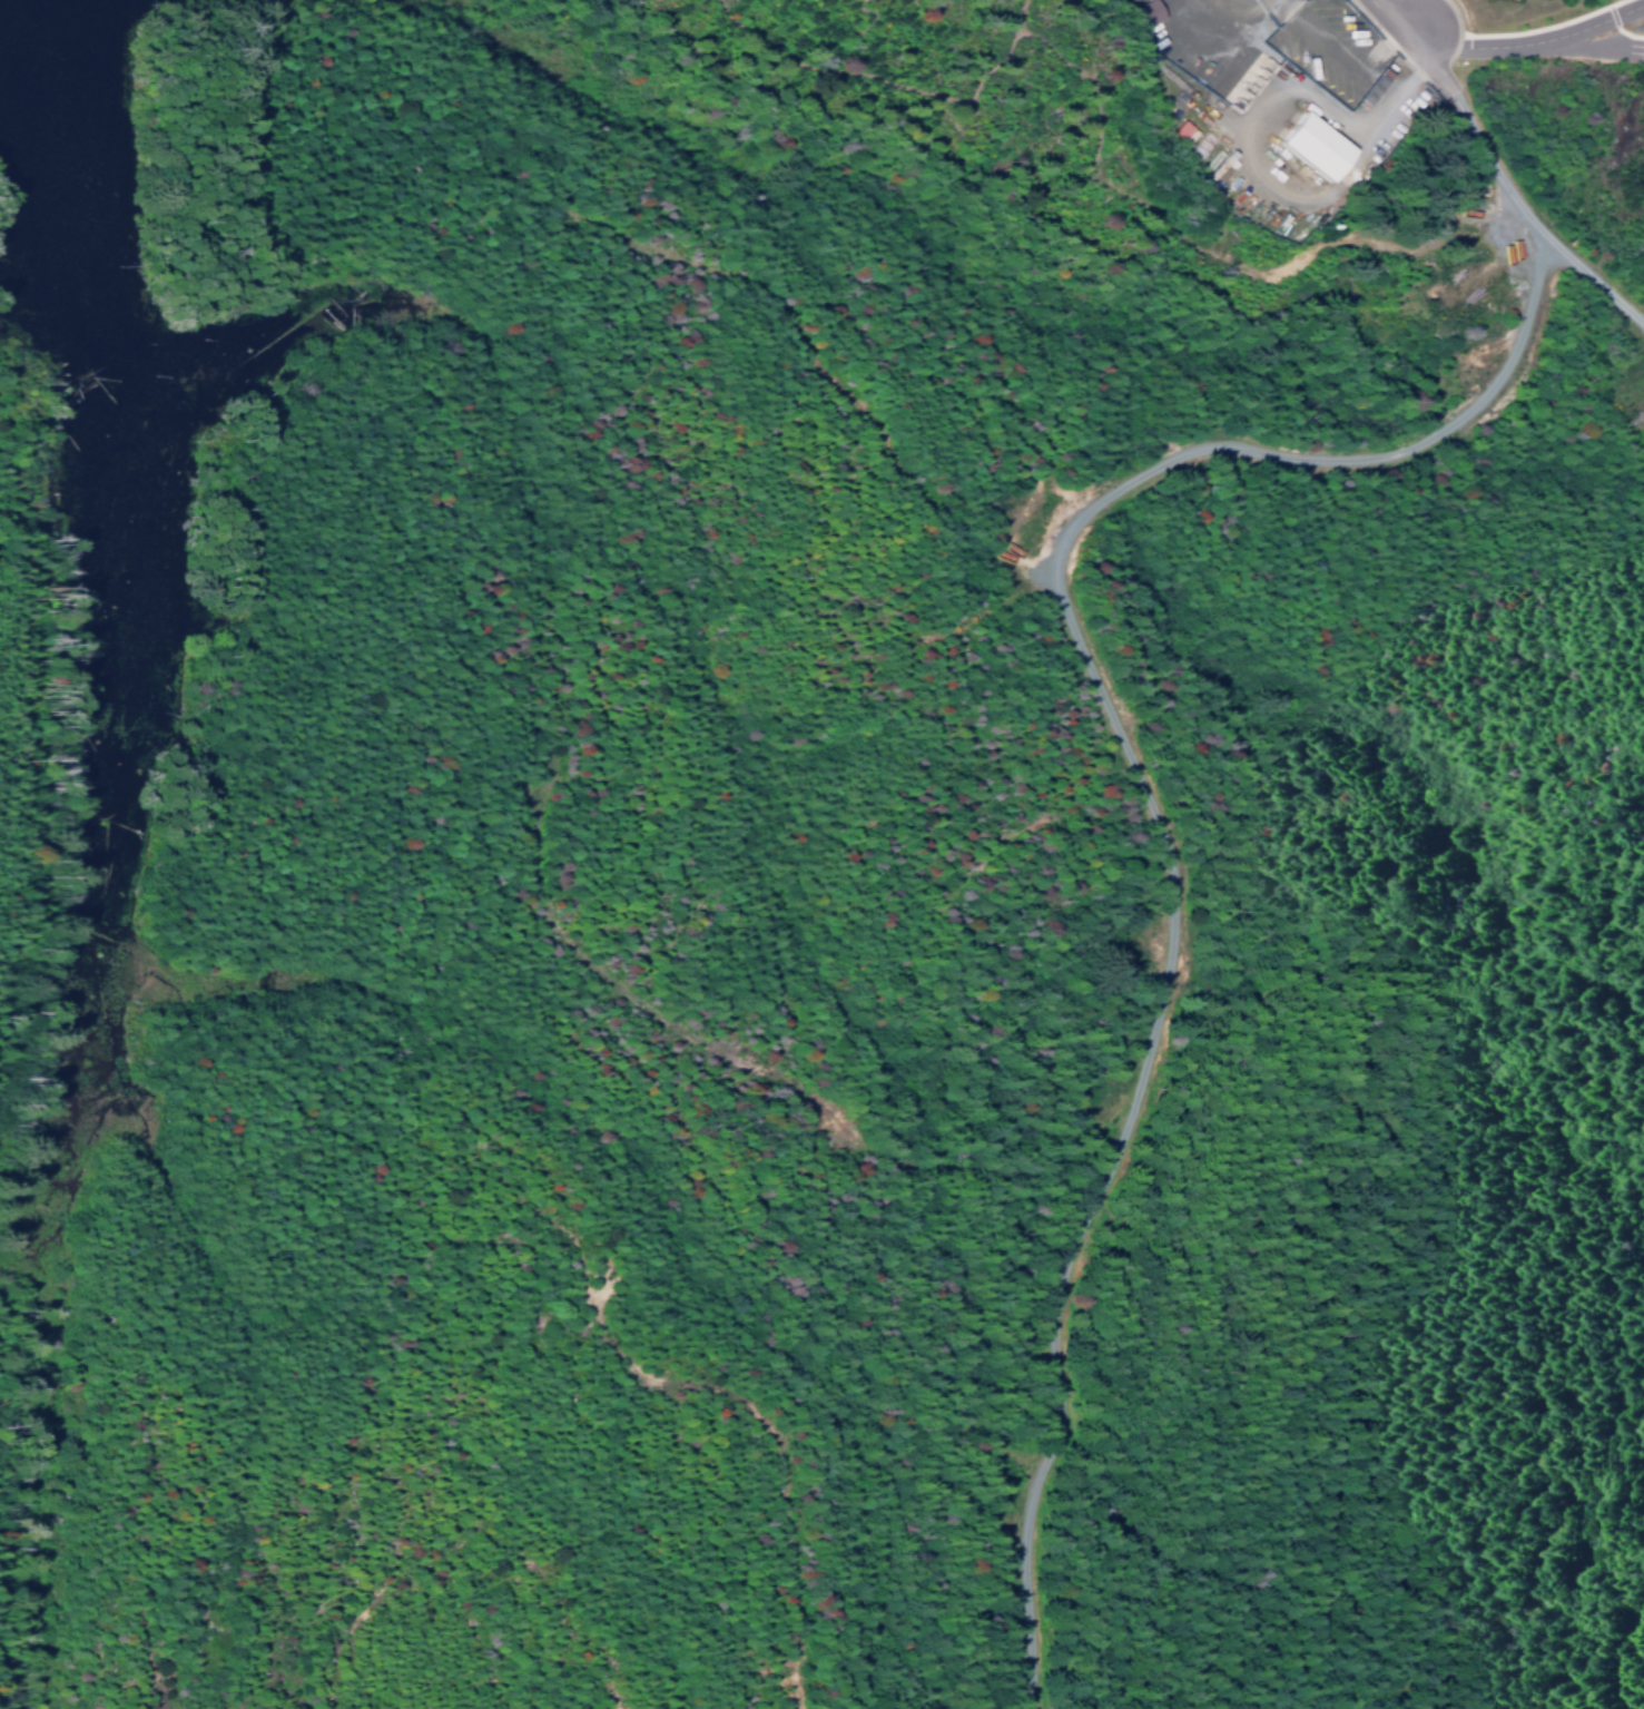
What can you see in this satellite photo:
building: (1143, 11)
road: (1415, 43)
road: (1528, 43)
building: (1307, 145)
road: (1529, 223)
road: (1151, 804)

